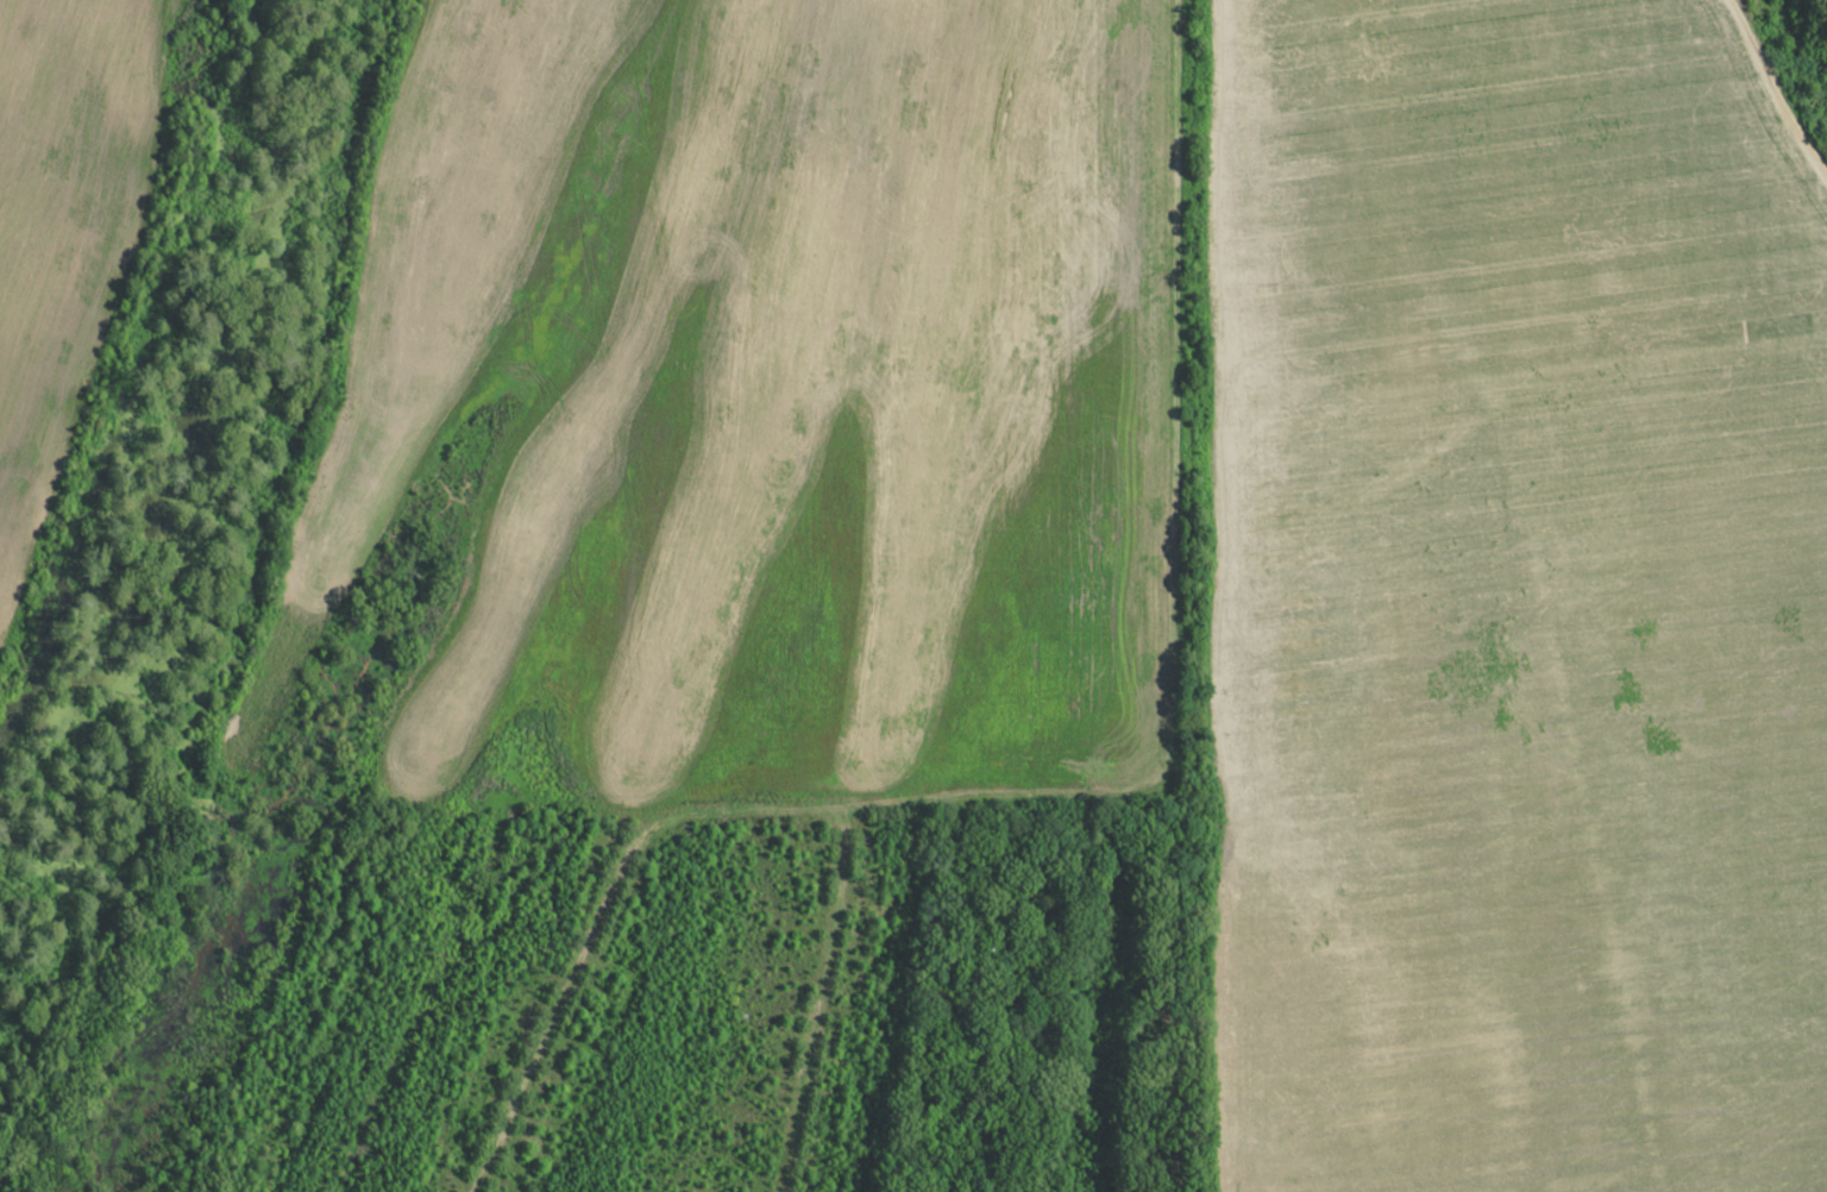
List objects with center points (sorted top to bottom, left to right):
road: (1540, 576)

